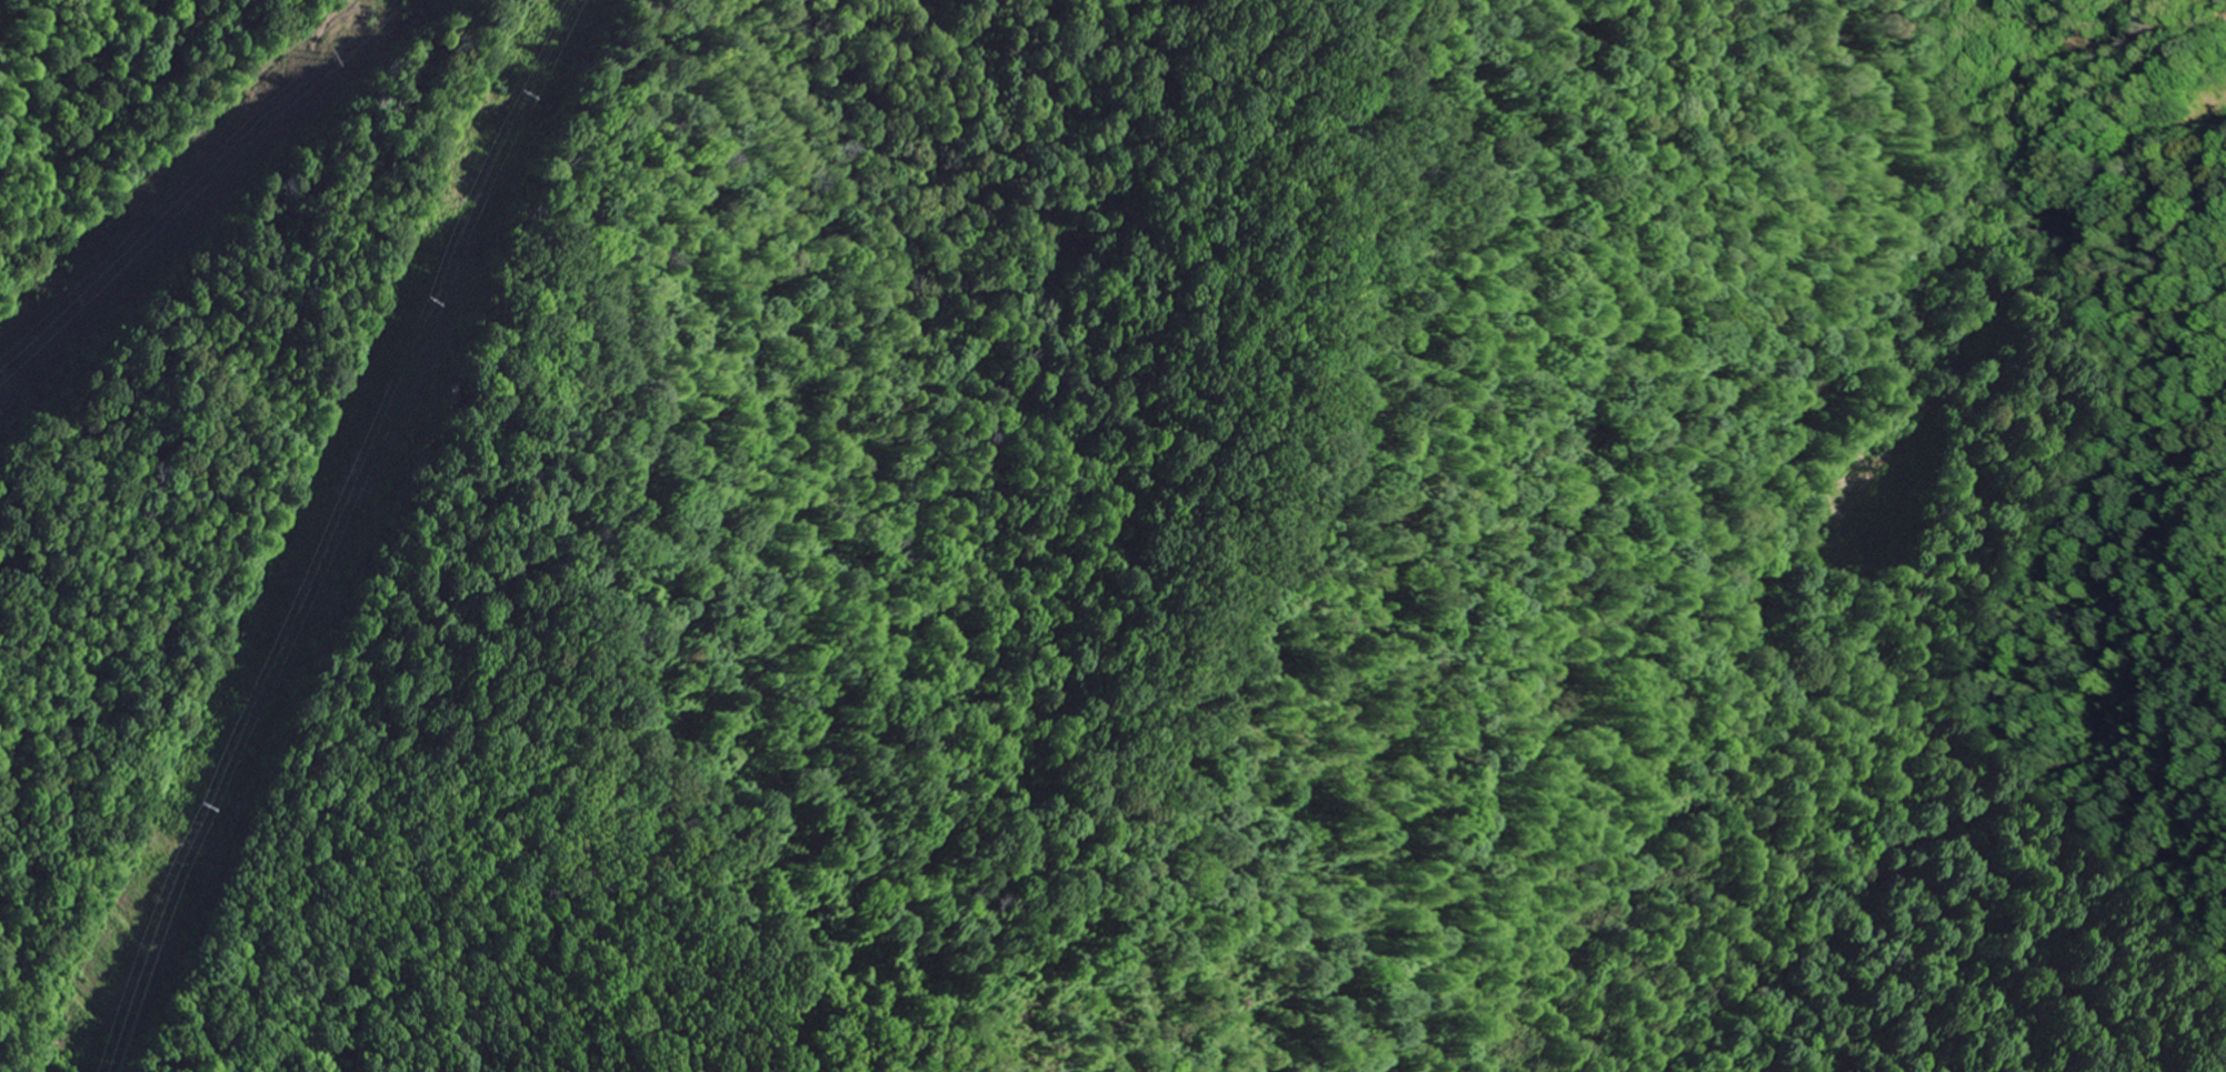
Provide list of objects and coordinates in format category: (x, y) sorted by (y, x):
power tower: (323, 52)
power tower: (406, 309)
power tower: (181, 806)

